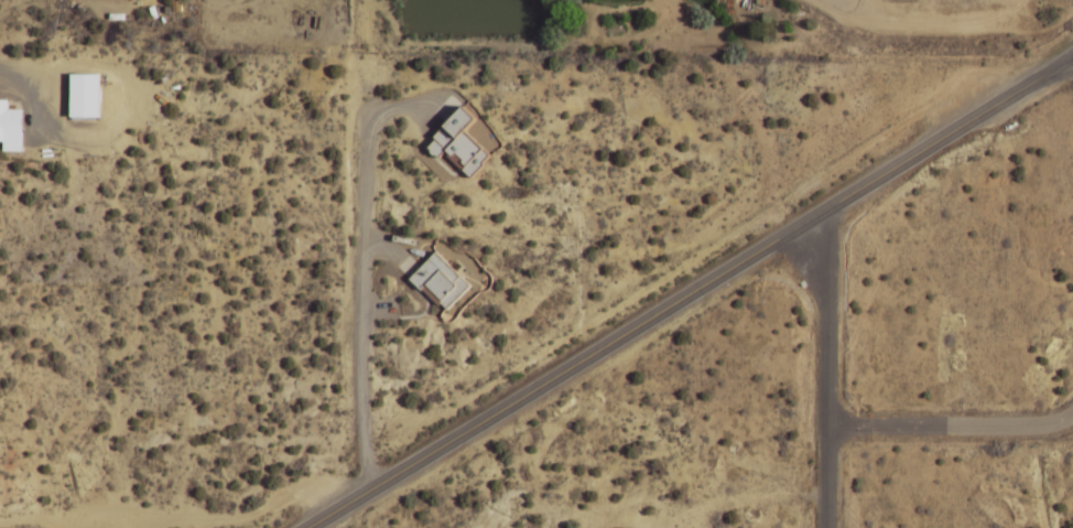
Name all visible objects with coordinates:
road: (112, 4)
road: (371, 60)
road: (1064, 62)
road: (1064, 67)
road: (12, 71)
building: (86, 97)
road: (120, 127)
building: (11, 128)
building: (460, 146)
road: (836, 244)
road: (384, 246)
road: (682, 266)
road: (360, 280)
building: (441, 283)
road: (682, 300)
road: (375, 310)
road: (828, 374)
road: (952, 425)
road: (915, 437)
road: (173, 521)
road: (47, 524)
road: (213, 524)
road: (153, 525)

